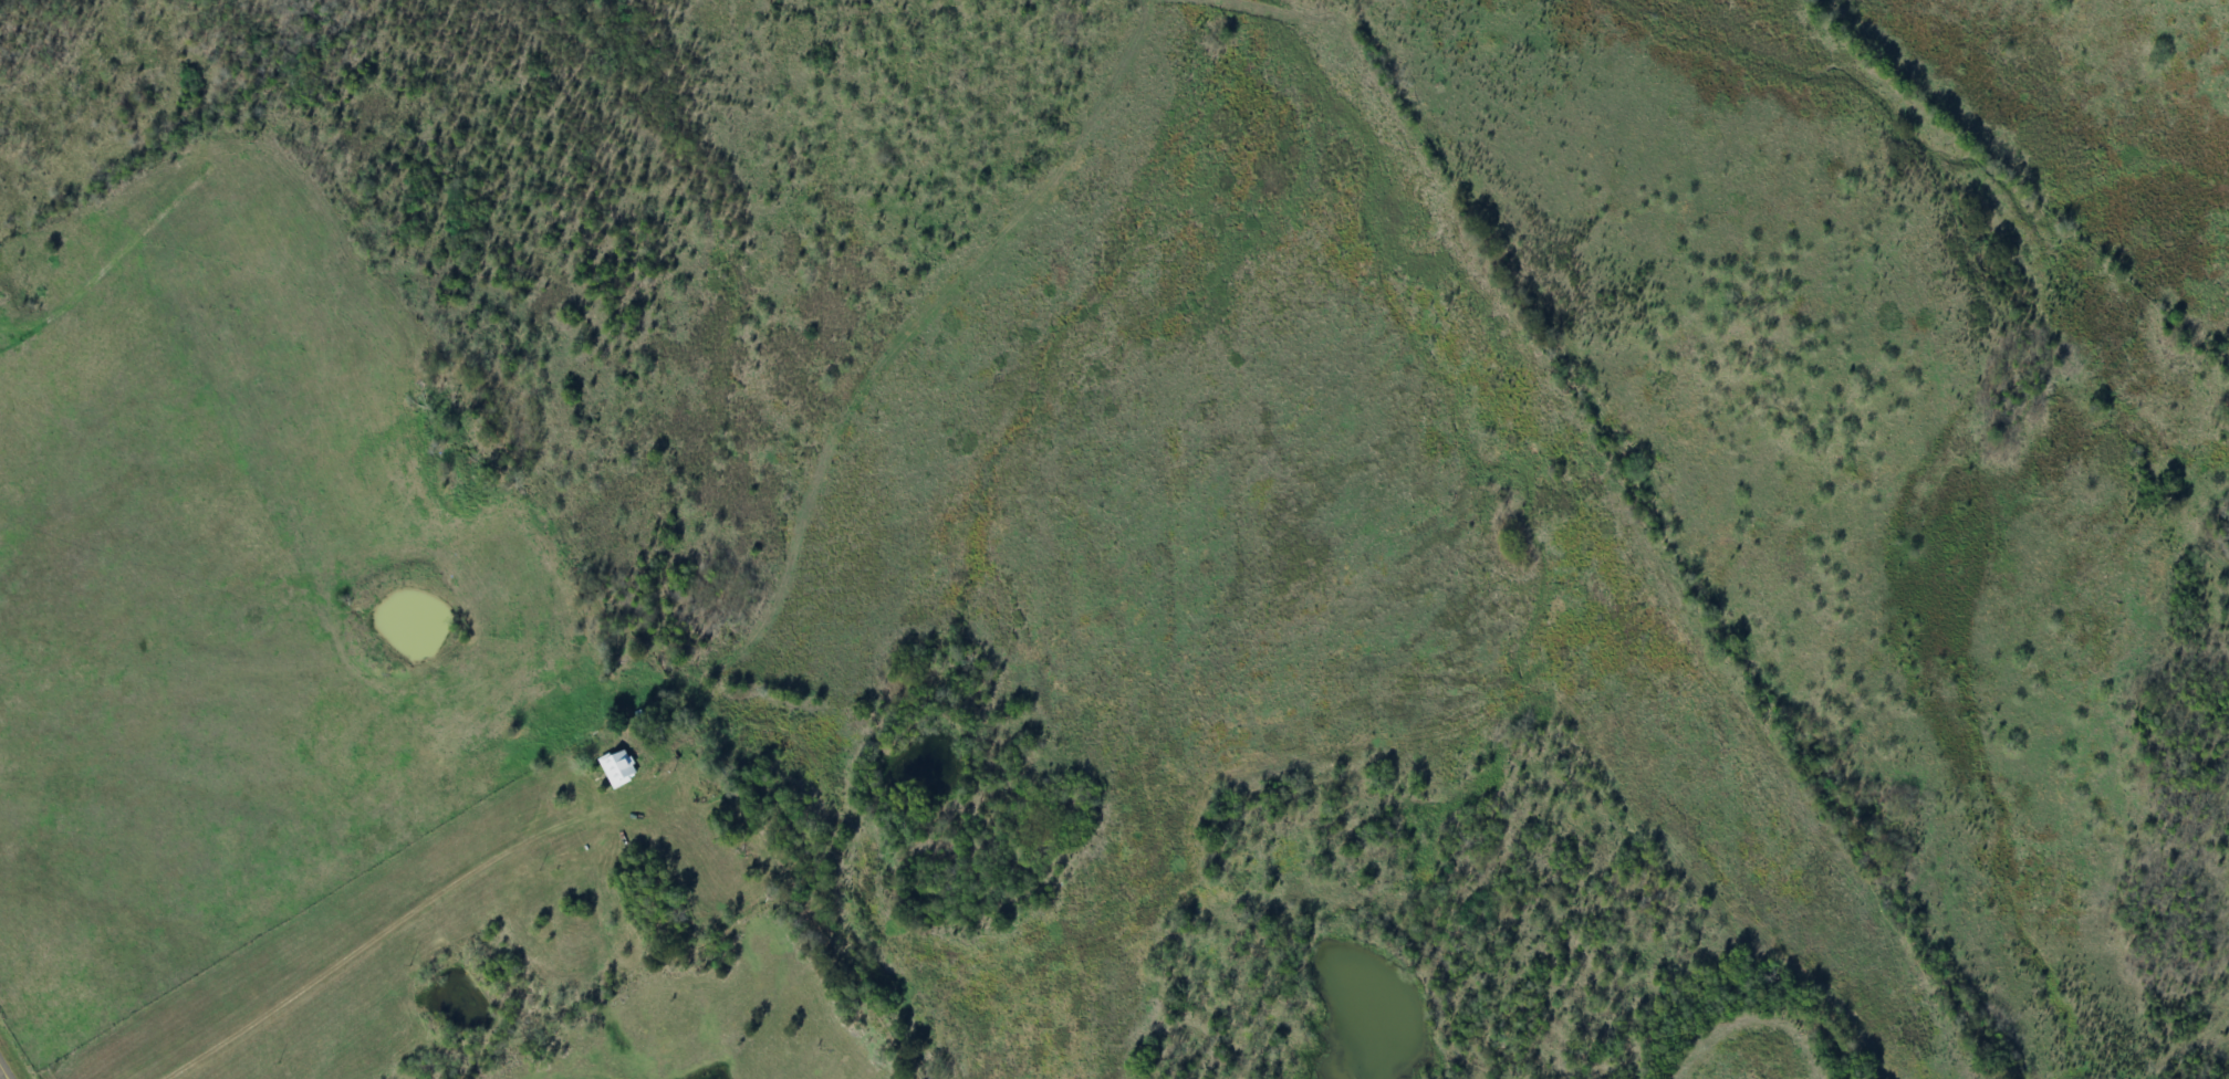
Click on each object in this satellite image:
road: (20, 751)
building: (624, 769)
road: (347, 941)
road: (0, 1077)

